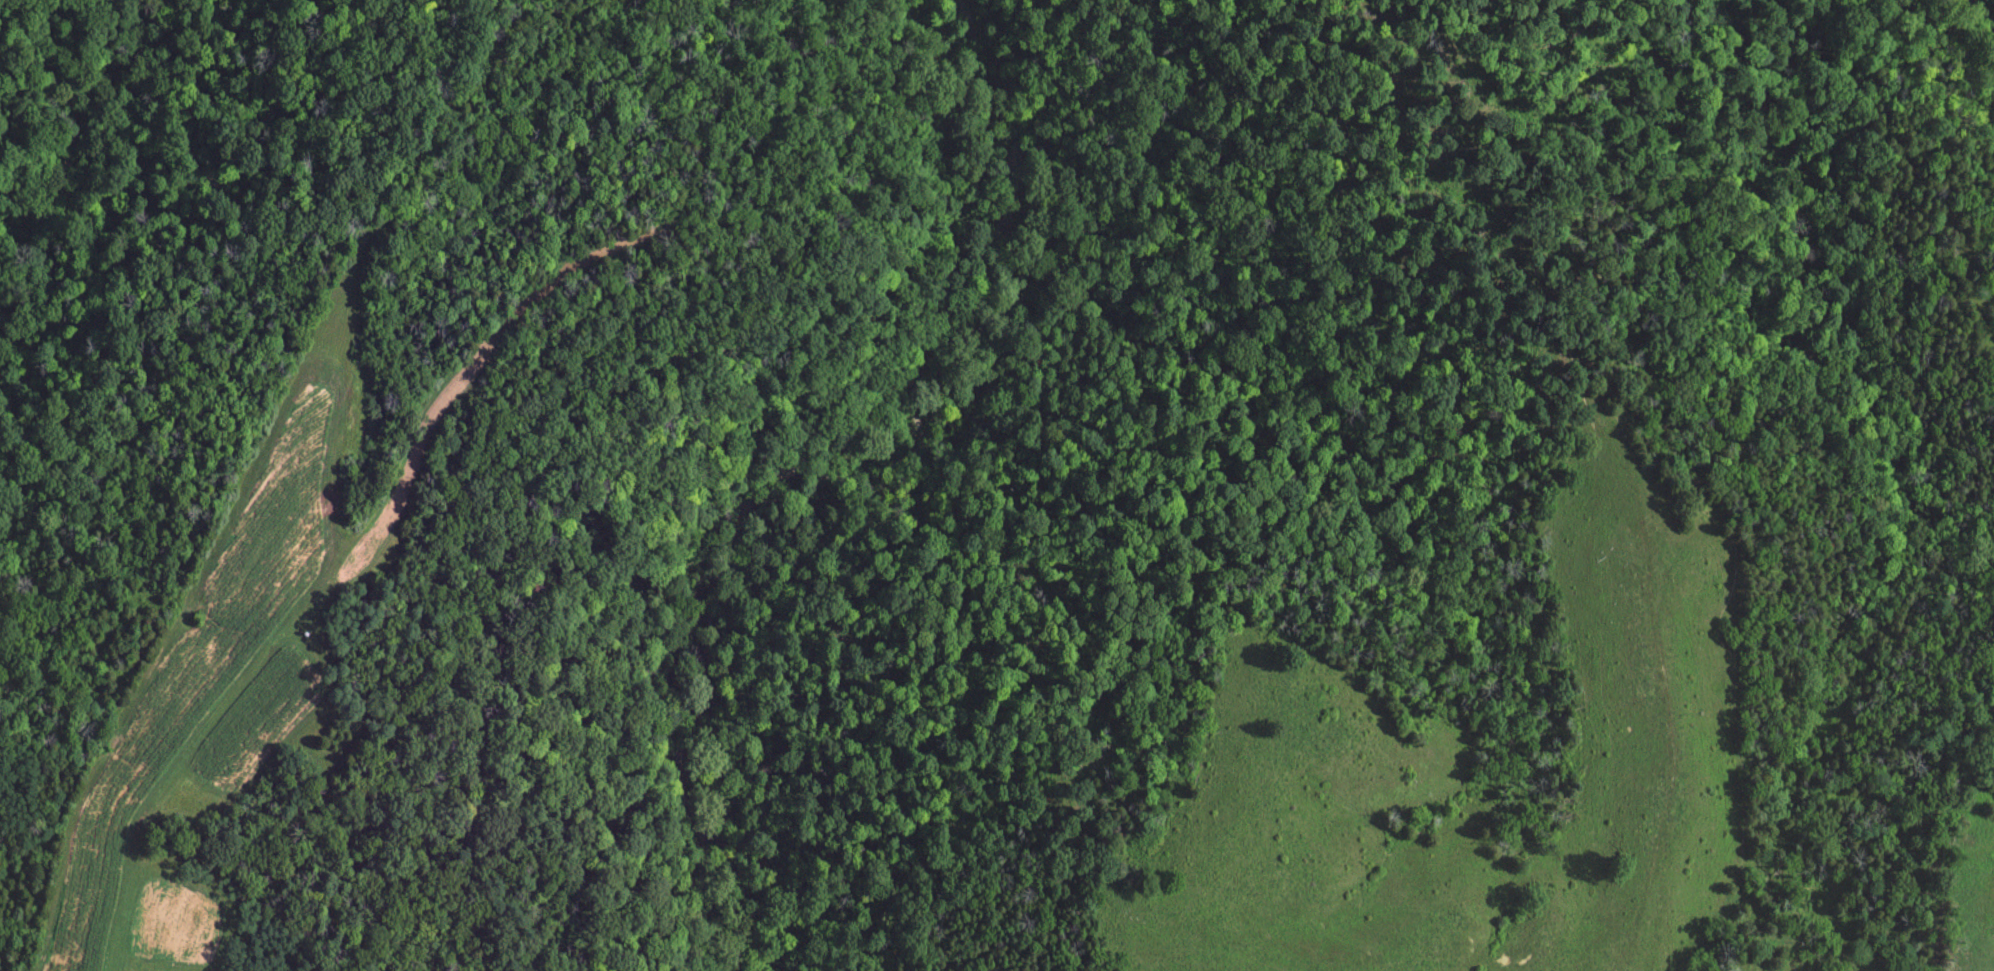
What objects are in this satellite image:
road: (1977, 15)

